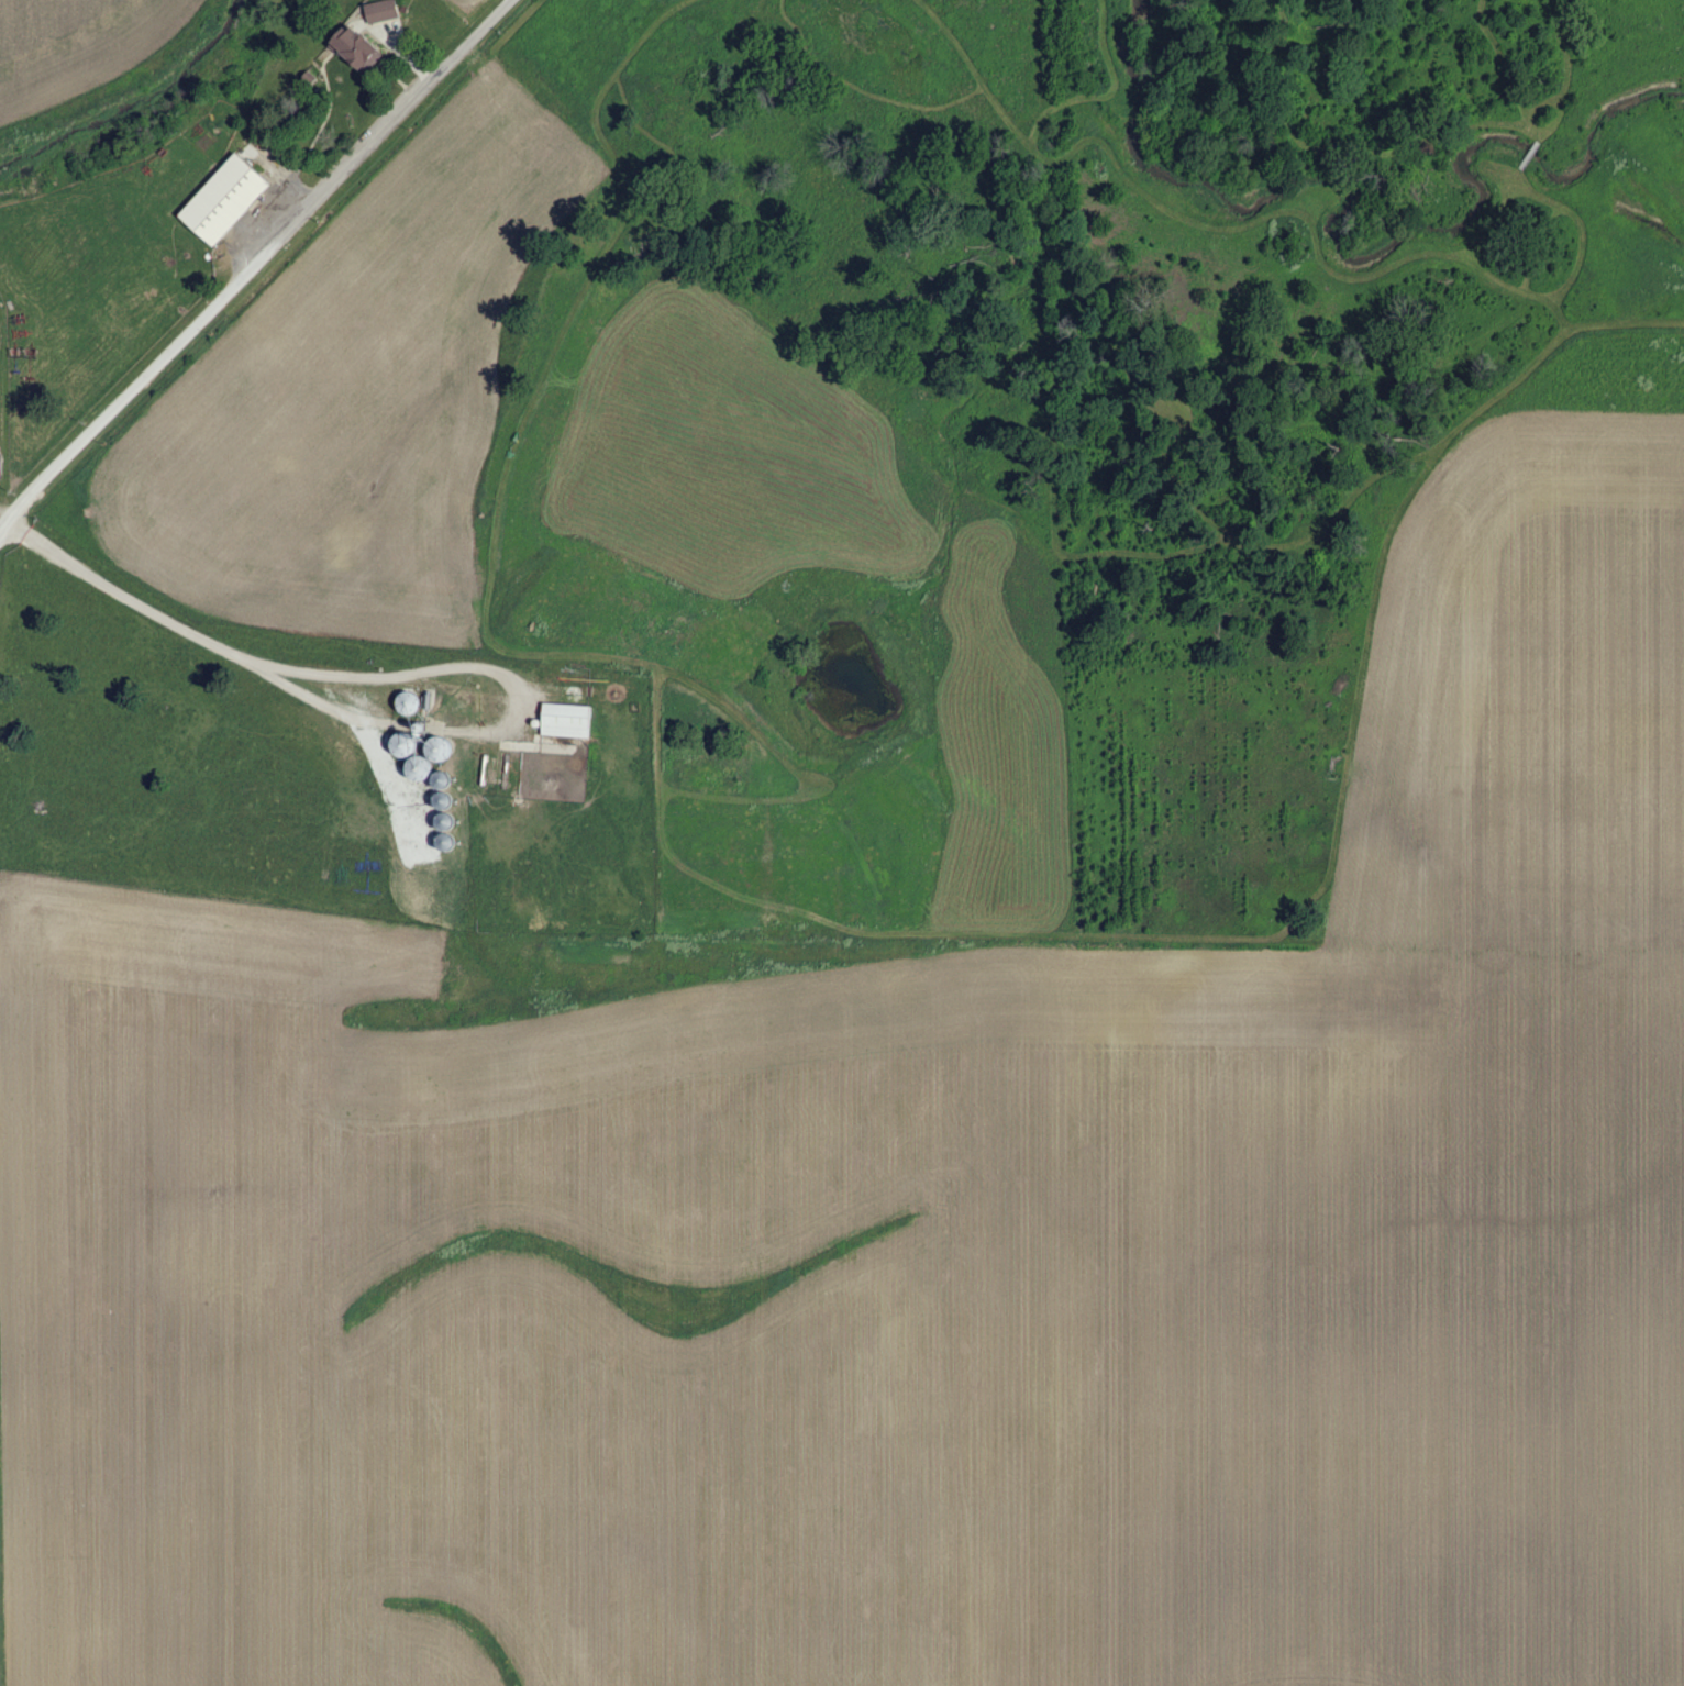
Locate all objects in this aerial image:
building: (387, 12)
building: (363, 47)
building: (232, 200)
road: (250, 263)
road: (258, 665)
building: (574, 722)

